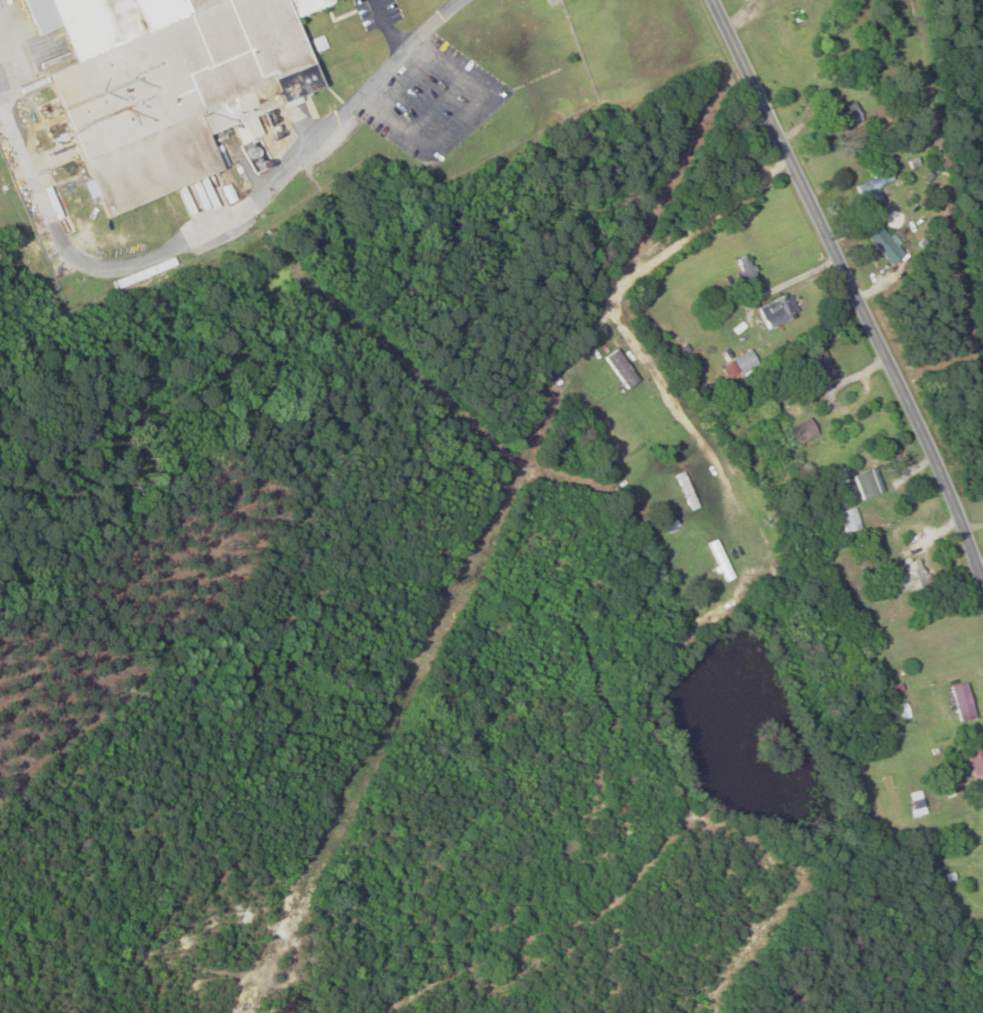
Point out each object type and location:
road: (387, 28)
road: (6, 36)
building: (165, 83)
building: (875, 189)
road: (216, 222)
building: (886, 244)
building: (747, 269)
road: (854, 287)
road: (626, 290)
building: (779, 311)
building: (741, 365)
building: (821, 366)
building: (622, 368)
building: (802, 432)
building: (839, 477)
building: (868, 483)
building: (690, 491)
building: (850, 520)
building: (718, 556)
building: (912, 577)
building: (962, 702)
building: (976, 763)

